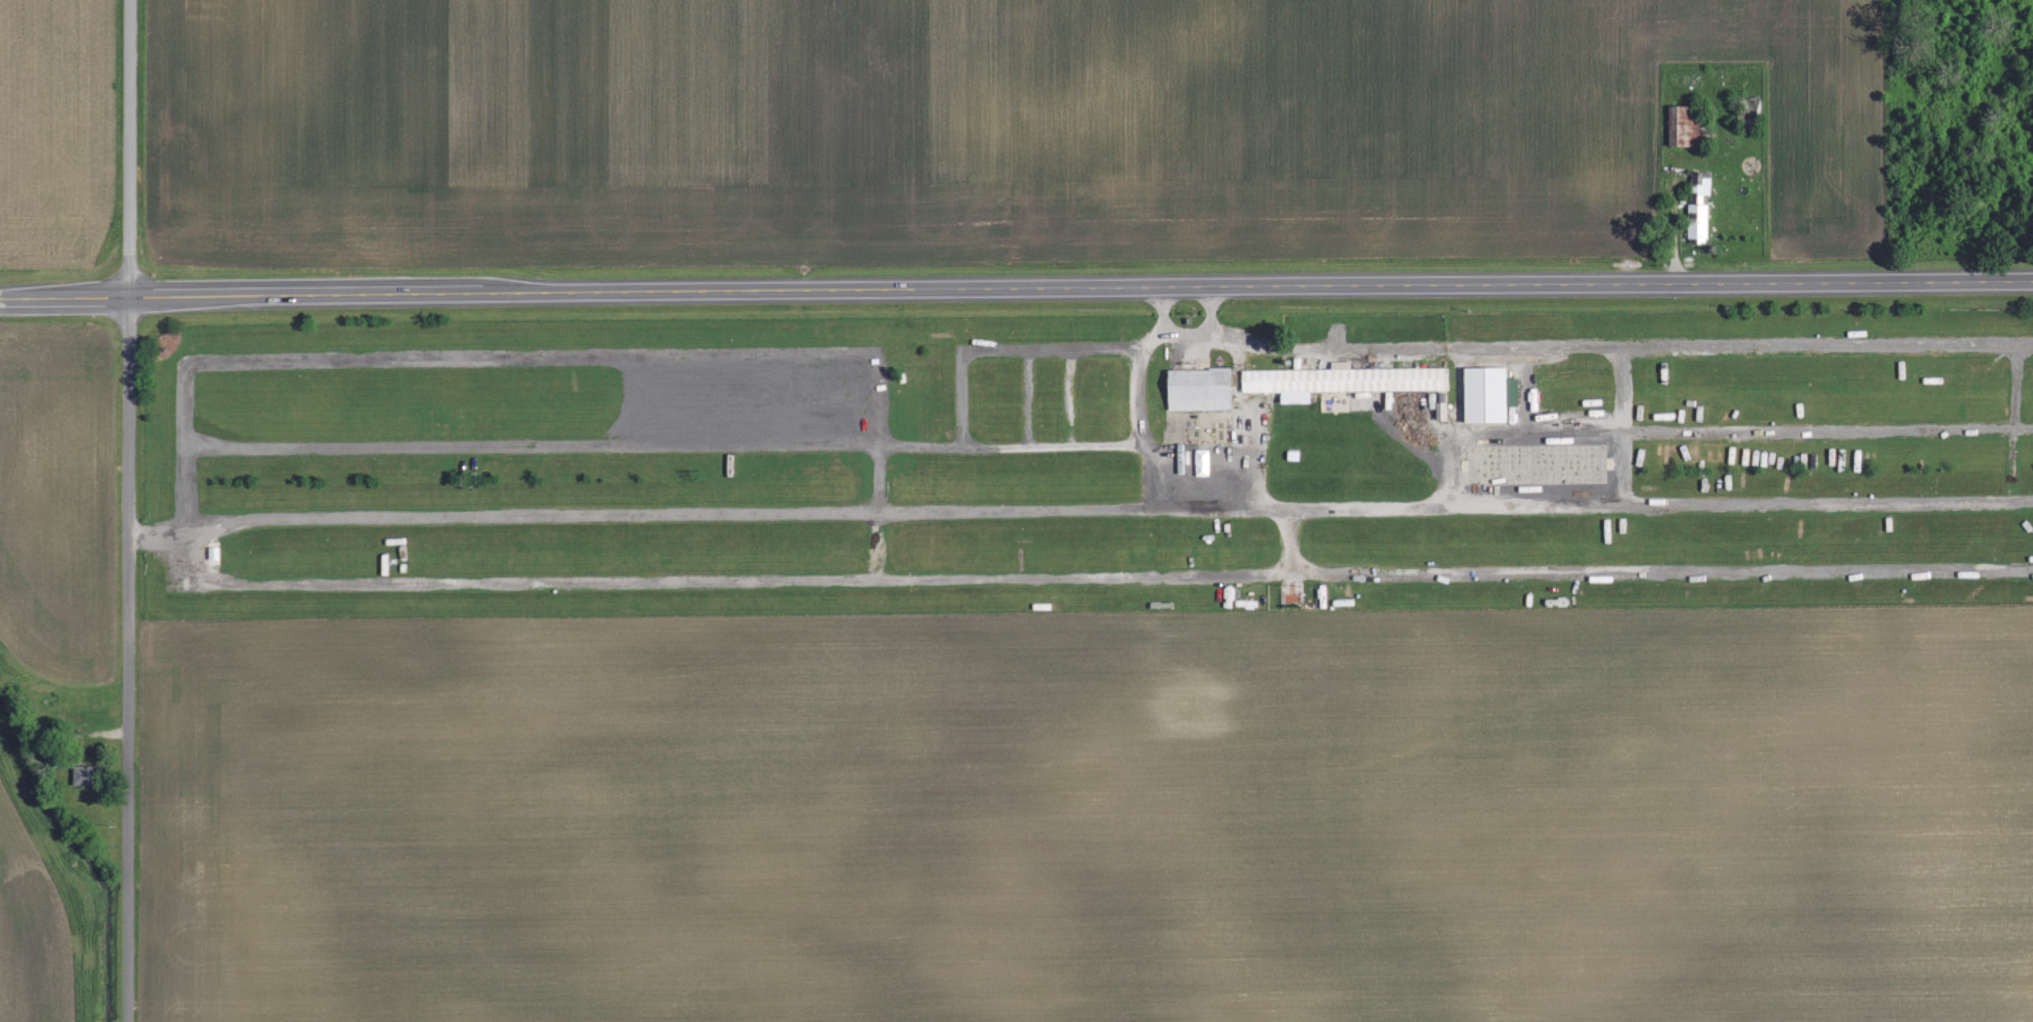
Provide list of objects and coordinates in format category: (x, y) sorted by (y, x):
building: (1683, 126)
building: (1698, 206)
road: (1016, 288)
building: (1342, 380)
building: (1199, 389)
building: (1513, 392)
building: (1485, 394)
road: (129, 510)
building: (213, 552)
building: (82, 775)

